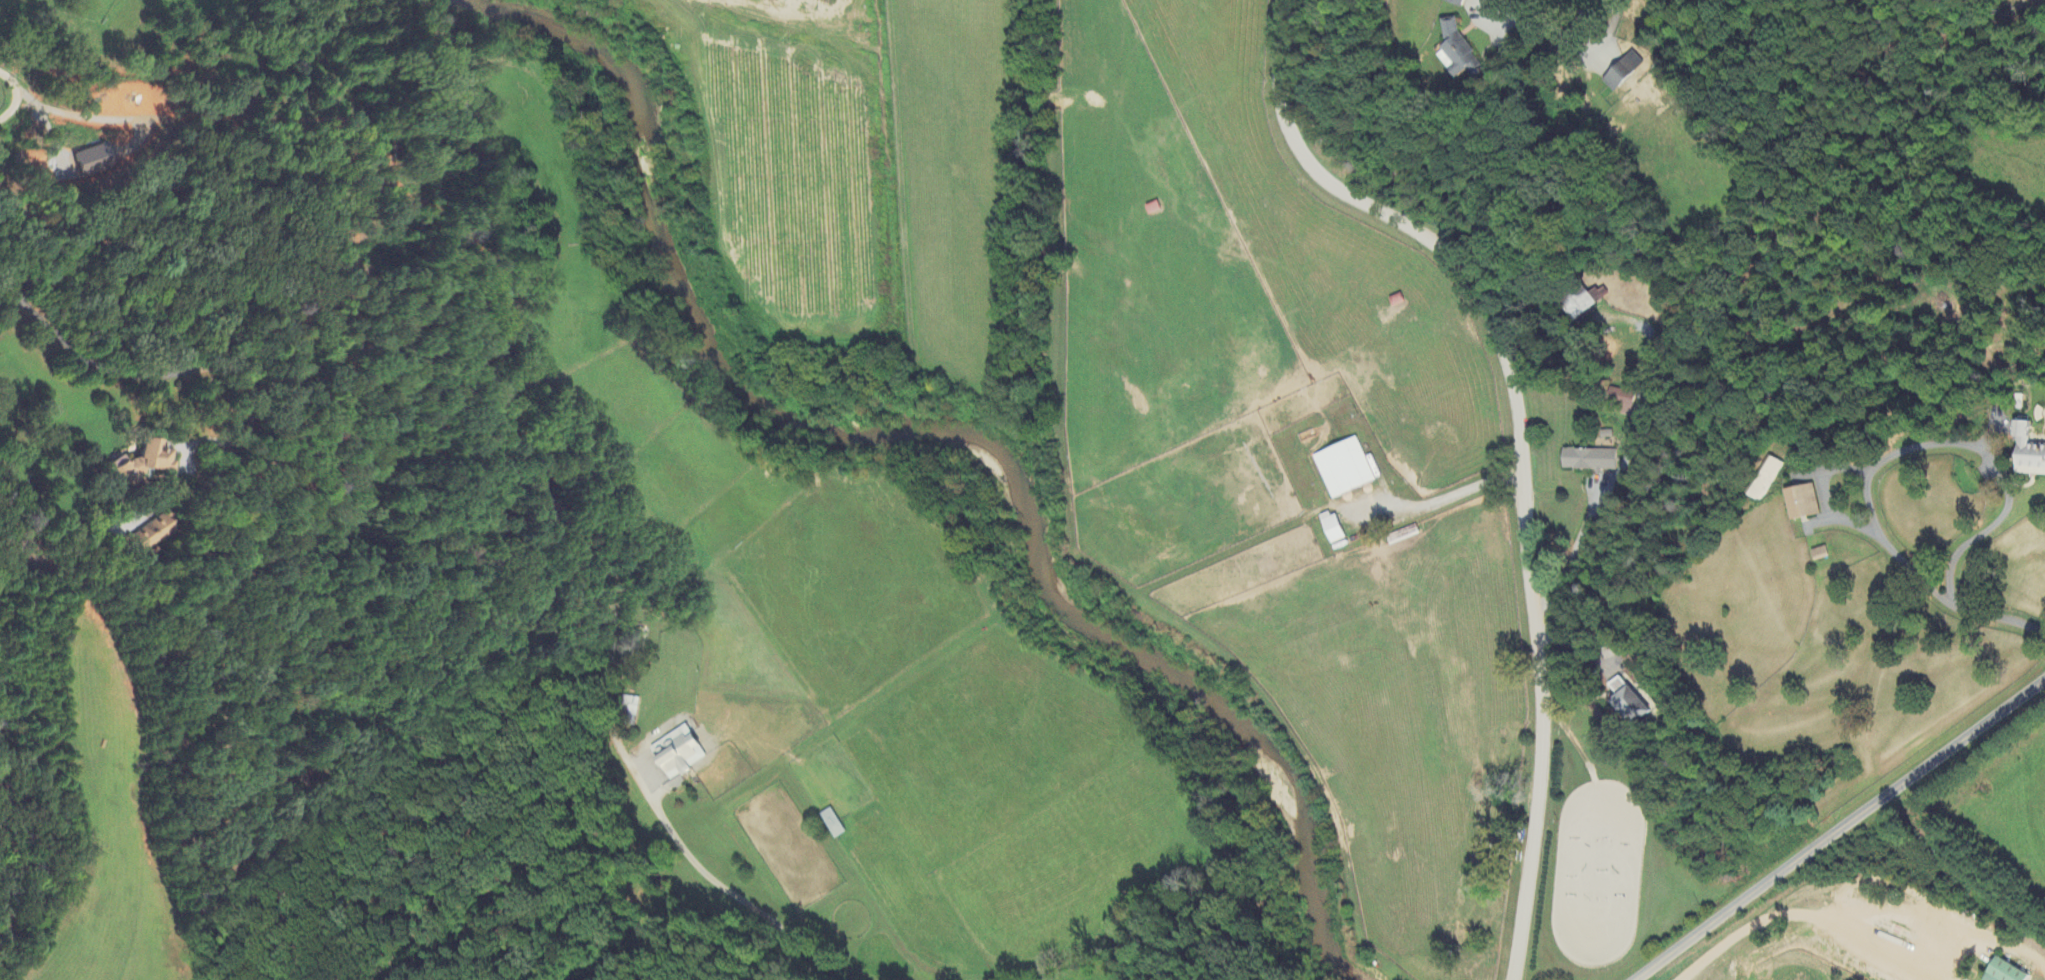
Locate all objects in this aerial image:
road: (1570, 40)
road: (19, 94)
road: (108, 366)
river: (950, 432)
road: (1522, 443)
road: (1933, 444)
road: (1619, 462)
road: (1451, 496)
road: (2000, 618)
road: (601, 684)
road: (1841, 828)
road: (720, 885)
road: (1820, 917)

